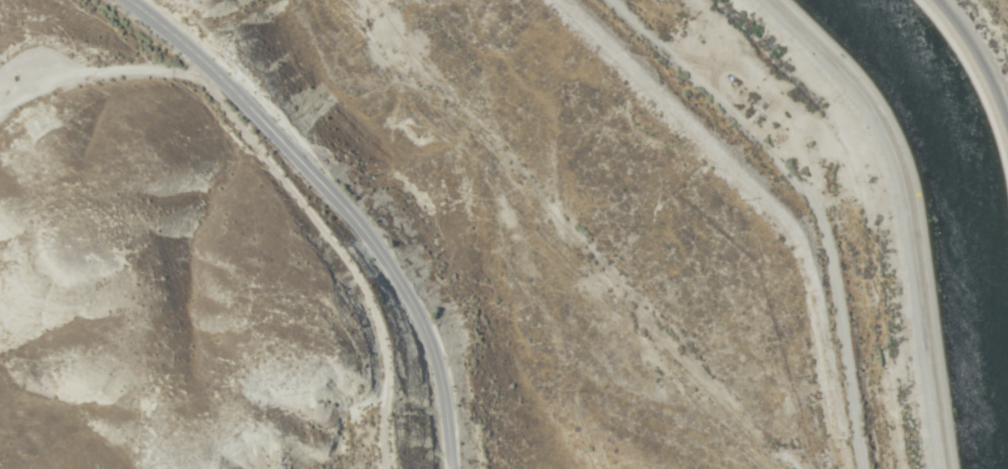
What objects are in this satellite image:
road: (988, 29)
road: (84, 71)
road: (755, 188)
road: (808, 197)
road: (341, 205)
road: (916, 215)
road: (315, 272)

